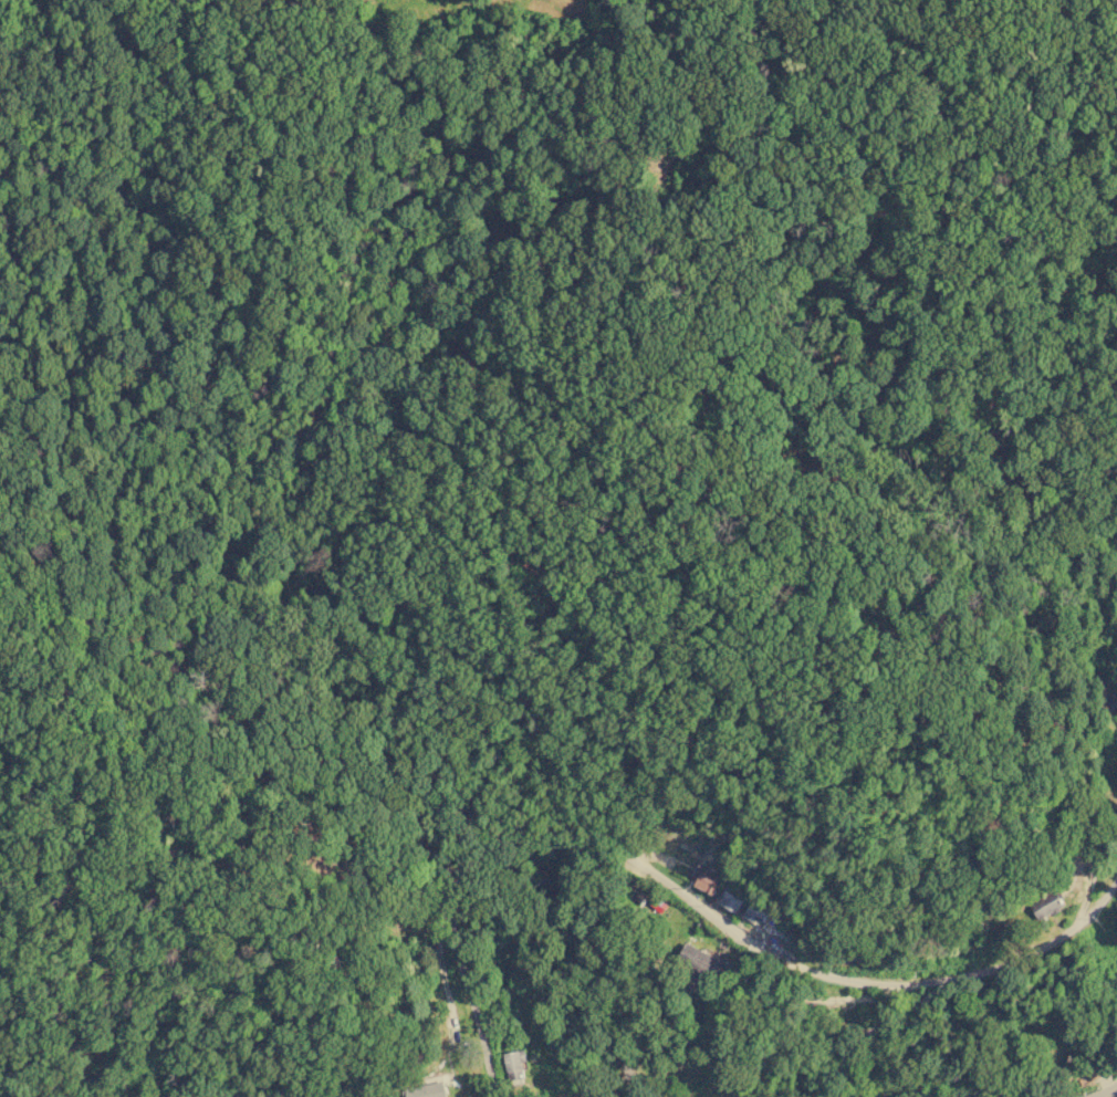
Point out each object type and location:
road: (610, 846)
building: (706, 877)
building: (730, 899)
building: (1046, 903)
building: (755, 911)
road: (1051, 940)
building: (696, 959)
road: (785, 1061)
building: (513, 1064)
building: (429, 1086)
road: (1109, 1093)

